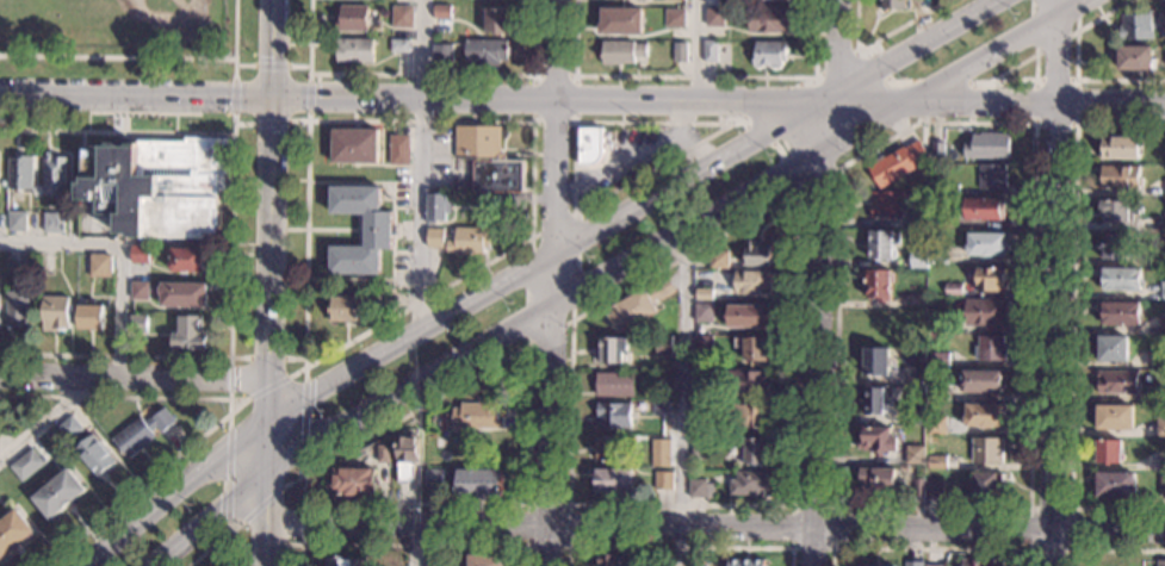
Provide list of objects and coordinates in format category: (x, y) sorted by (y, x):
building: (898, 5)
park: (142, 12)
building: (441, 12)
building: (402, 17)
building: (714, 17)
building: (674, 18)
building: (353, 19)
building: (769, 19)
building: (496, 20)
building: (620, 21)
building: (1140, 26)
road: (878, 38)
building: (399, 45)
road: (1045, 48)
road: (696, 49)
building: (354, 50)
road: (834, 50)
building: (485, 51)
building: (709, 51)
building: (442, 52)
building: (620, 52)
building: (678, 54)
building: (768, 55)
road: (147, 58)
building: (1133, 58)
road: (244, 64)
road: (271, 64)
road: (298, 66)
road: (1076, 68)
road: (234, 69)
road: (1035, 70)
road: (421, 74)
road: (695, 75)
road: (309, 77)
road: (929, 82)
traffic signals: (274, 94)
road: (233, 95)
road: (309, 97)
road: (582, 98)
road: (739, 120)
road: (271, 123)
road: (533, 123)
road: (233, 124)
road: (243, 124)
road: (1074, 124)
road: (230, 133)
road: (686, 139)
building: (477, 142)
building: (354, 145)
building: (589, 145)
building: (987, 147)
building: (1120, 148)
building: (1164, 149)
building: (399, 150)
building: (937, 151)
building: (897, 163)
road: (421, 164)
road: (619, 172)
building: (20, 173)
road: (575, 173)
building: (55, 175)
building: (497, 176)
building: (992, 178)
building: (1120, 178)
building: (464, 185)
building: (157, 187)
building: (1164, 187)
building: (948, 189)
road: (531, 197)
building: (489, 199)
building: (888, 204)
building: (438, 209)
building: (984, 210)
road: (271, 211)
building: (1117, 211)
road: (634, 212)
road: (574, 213)
building: (16, 222)
building: (917, 222)
building: (938, 222)
building: (52, 223)
building: (1164, 223)
road: (335, 229)
road: (358, 230)
road: (670, 231)
road: (794, 236)
building: (378, 237)
building: (435, 238)
building: (472, 240)
building: (882, 244)
building: (986, 244)
road: (305, 245)
building: (1113, 245)
road: (118, 250)
building: (1163, 253)
building: (756, 254)
building: (140, 255)
building: (938, 255)
building: (918, 259)
building: (187, 260)
building: (718, 260)
road: (551, 263)
building: (103, 265)
building: (14, 266)
building: (1121, 279)
building: (991, 280)
building: (754, 282)
road: (1052, 282)
building: (878, 285)
building: (399, 286)
building: (953, 290)
building: (138, 291)
building: (1163, 291)
building: (184, 294)
building: (704, 294)
building: (917, 301)
building: (639, 305)
building: (17, 309)
building: (343, 309)
building: (704, 312)
building: (55, 313)
building: (985, 313)
building: (1120, 313)
building: (749, 316)
building: (91, 317)
road: (1072, 319)
building: (936, 323)
building: (137, 324)
building: (1163, 325)
building: (190, 334)
road: (816, 341)
building: (664, 344)
building: (702, 344)
building: (752, 348)
building: (613, 349)
building: (990, 349)
building: (1113, 349)
traffic signals: (267, 353)
road: (125, 356)
road: (267, 357)
road: (293, 359)
building: (938, 359)
building: (1158, 360)
building: (875, 362)
road: (132, 375)
building: (701, 375)
building: (913, 377)
road: (230, 378)
road: (472, 378)
building: (983, 380)
building: (663, 382)
building: (745, 382)
building: (1117, 384)
building: (615, 385)
road: (267, 386)
building: (937, 391)
road: (682, 396)
building: (1160, 396)
road: (123, 397)
traffic signals: (312, 397)
building: (875, 402)
building: (661, 408)
road: (229, 409)
building: (701, 409)
building: (479, 415)
building: (984, 415)
building: (613, 416)
building: (749, 416)
building: (915, 416)
building: (1115, 418)
road: (45, 421)
building: (936, 425)
building: (1160, 425)
building: (70, 428)
road: (304, 428)
building: (142, 433)
building: (49, 435)
building: (663, 441)
building: (878, 441)
road: (266, 447)
building: (702, 447)
building: (608, 448)
building: (436, 449)
building: (756, 450)
building: (987, 450)
building: (1108, 452)
building: (384, 453)
building: (915, 454)
building: (95, 458)
building: (405, 458)
building: (467, 461)
building: (936, 462)
building: (26, 465)
building: (1161, 465)
road: (228, 473)
building: (881, 478)
road: (1028, 478)
building: (434, 479)
building: (614, 480)
building: (664, 480)
road: (145, 481)
building: (353, 481)
building: (479, 484)
building: (750, 484)
building: (985, 485)
building: (1115, 485)
building: (1164, 486)
building: (919, 487)
building: (701, 489)
building: (935, 490)
building: (58, 493)
road: (176, 495)
road: (264, 498)
traffic signals: (219, 504)
road: (261, 504)
road: (398, 504)
traffic signals: (265, 512)
road: (203, 516)
road: (407, 524)
road: (856, 530)
building: (13, 533)
road: (227, 541)
road: (216, 543)
road: (284, 545)
road: (413, 545)
road: (416, 545)
road: (262, 546)
road: (569, 546)
road: (549, 547)
road: (678, 547)
road: (832, 547)
road: (929, 549)
road: (1070, 552)
road: (1109, 552)
building: (485, 560)
building: (608, 560)
building: (341, 561)
building: (746, 562)
building: (981, 562)
building: (913, 564)
building: (1160, 564)
building: (434, 565)
building: (698, 565)
building: (875, 565)
building: (934, 565)

